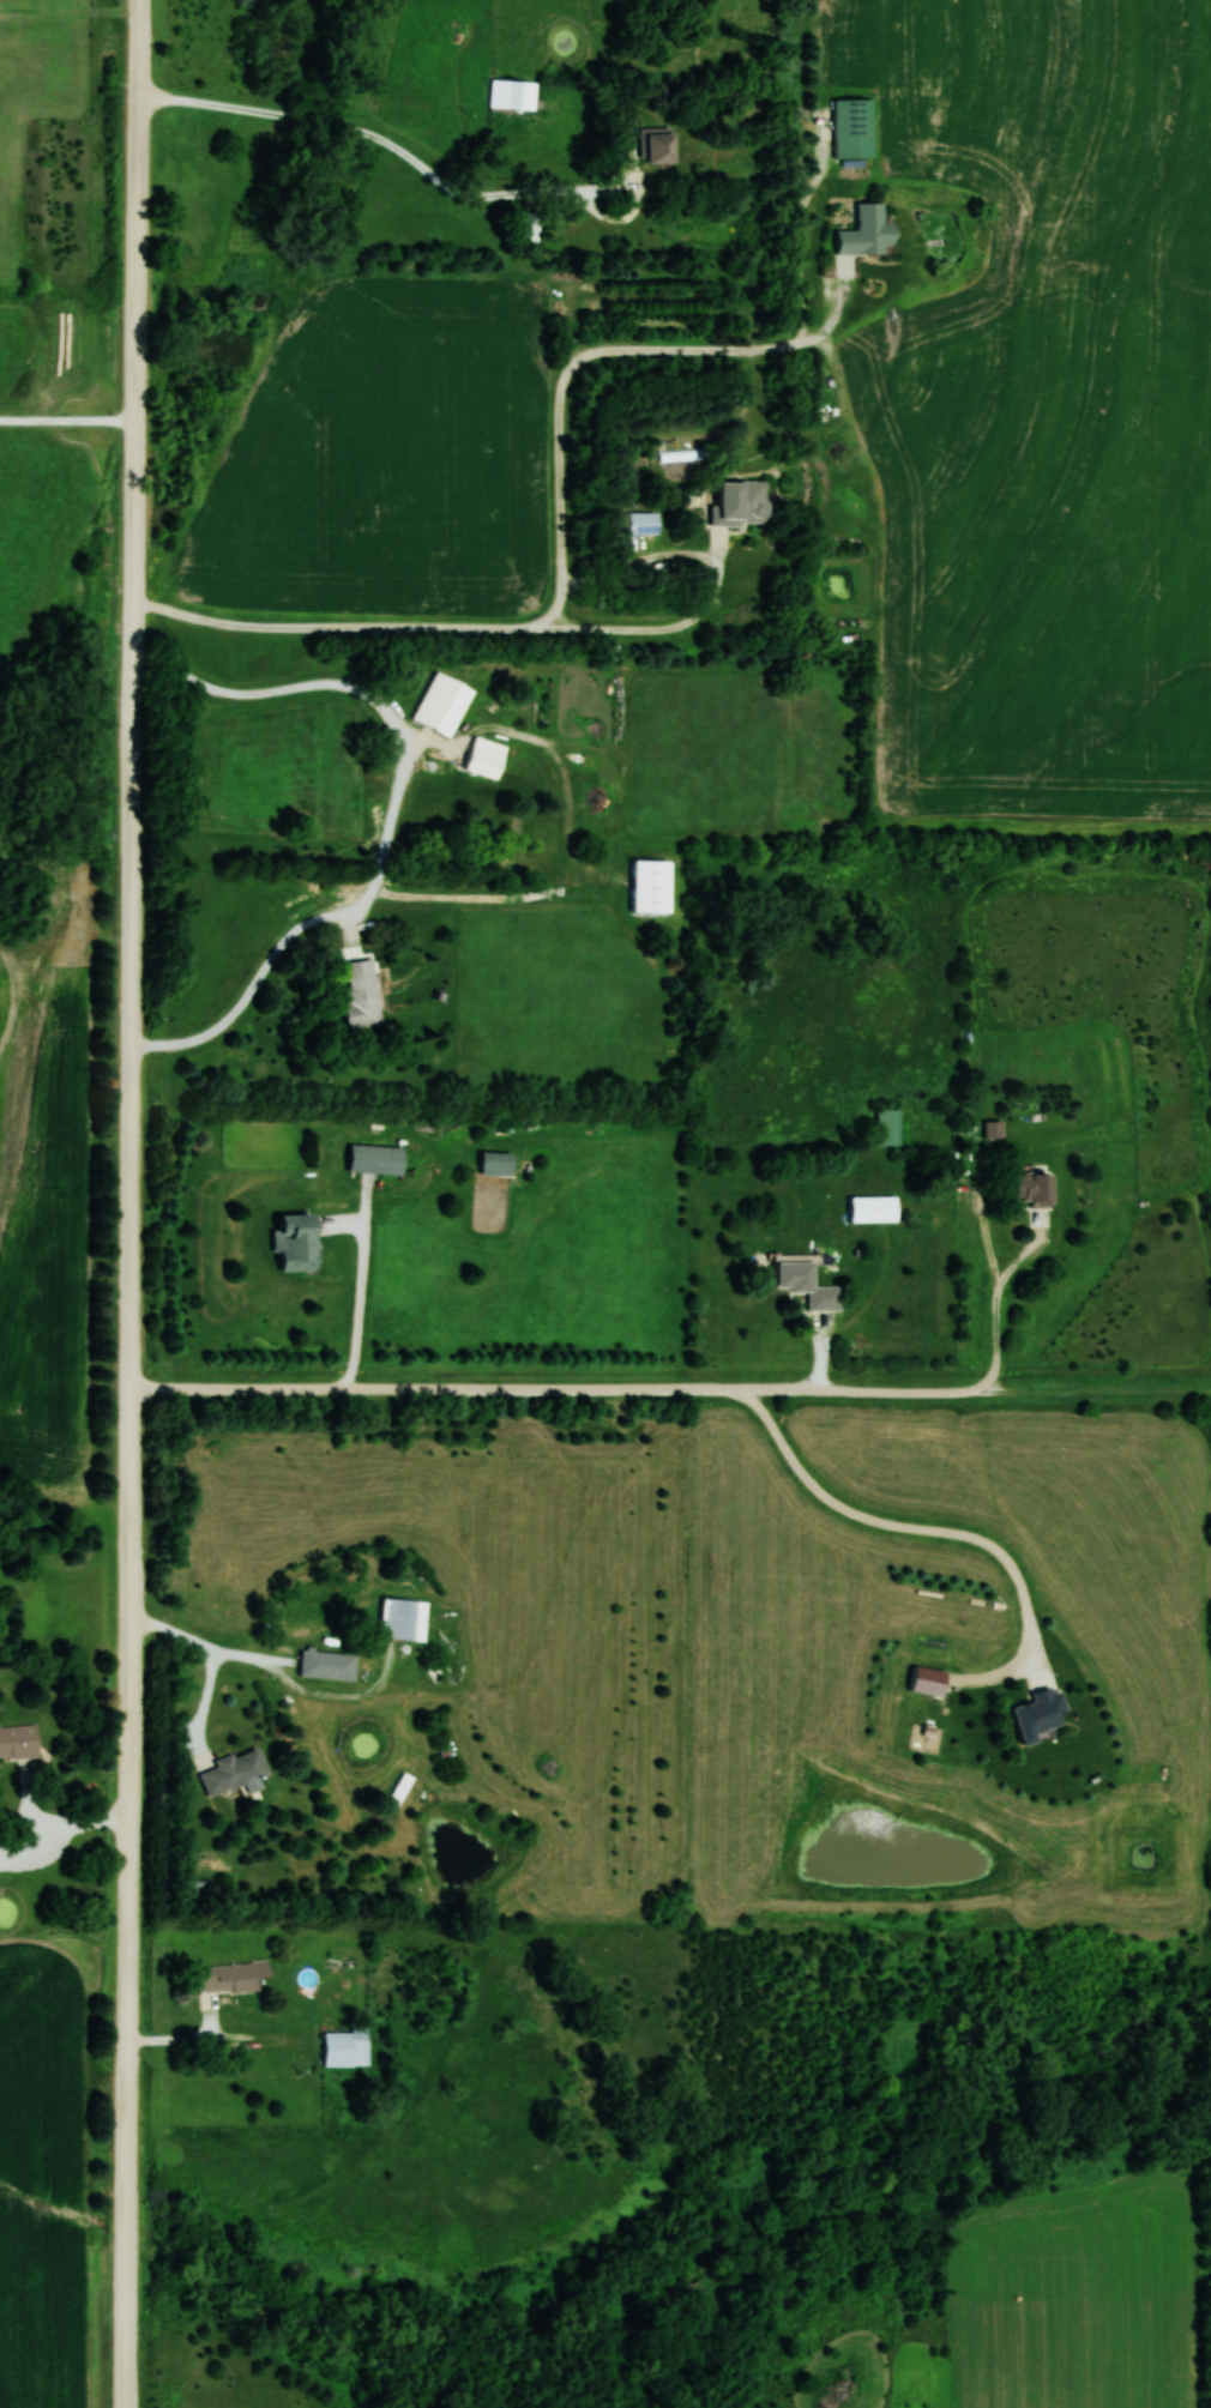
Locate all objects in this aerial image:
building: (512, 93)
building: (655, 144)
road: (428, 173)
building: (866, 230)
road: (67, 421)
building: (741, 503)
building: (641, 523)
road: (561, 535)
road: (667, 629)
building: (441, 704)
building: (484, 758)
road: (392, 817)
building: (650, 887)
building: (360, 994)
building: (887, 1127)
building: (993, 1130)
building: (375, 1160)
building: (495, 1163)
building: (1032, 1189)
road: (131, 1203)
building: (873, 1209)
building: (296, 1243)
building: (806, 1283)
road: (360, 1308)
road: (639, 1389)
road: (900, 1526)
building: (403, 1618)
building: (327, 1664)
building: (928, 1679)
building: (1040, 1712)
building: (18, 1740)
building: (233, 1770)
building: (400, 1787)
building: (231, 1975)
building: (345, 2047)

